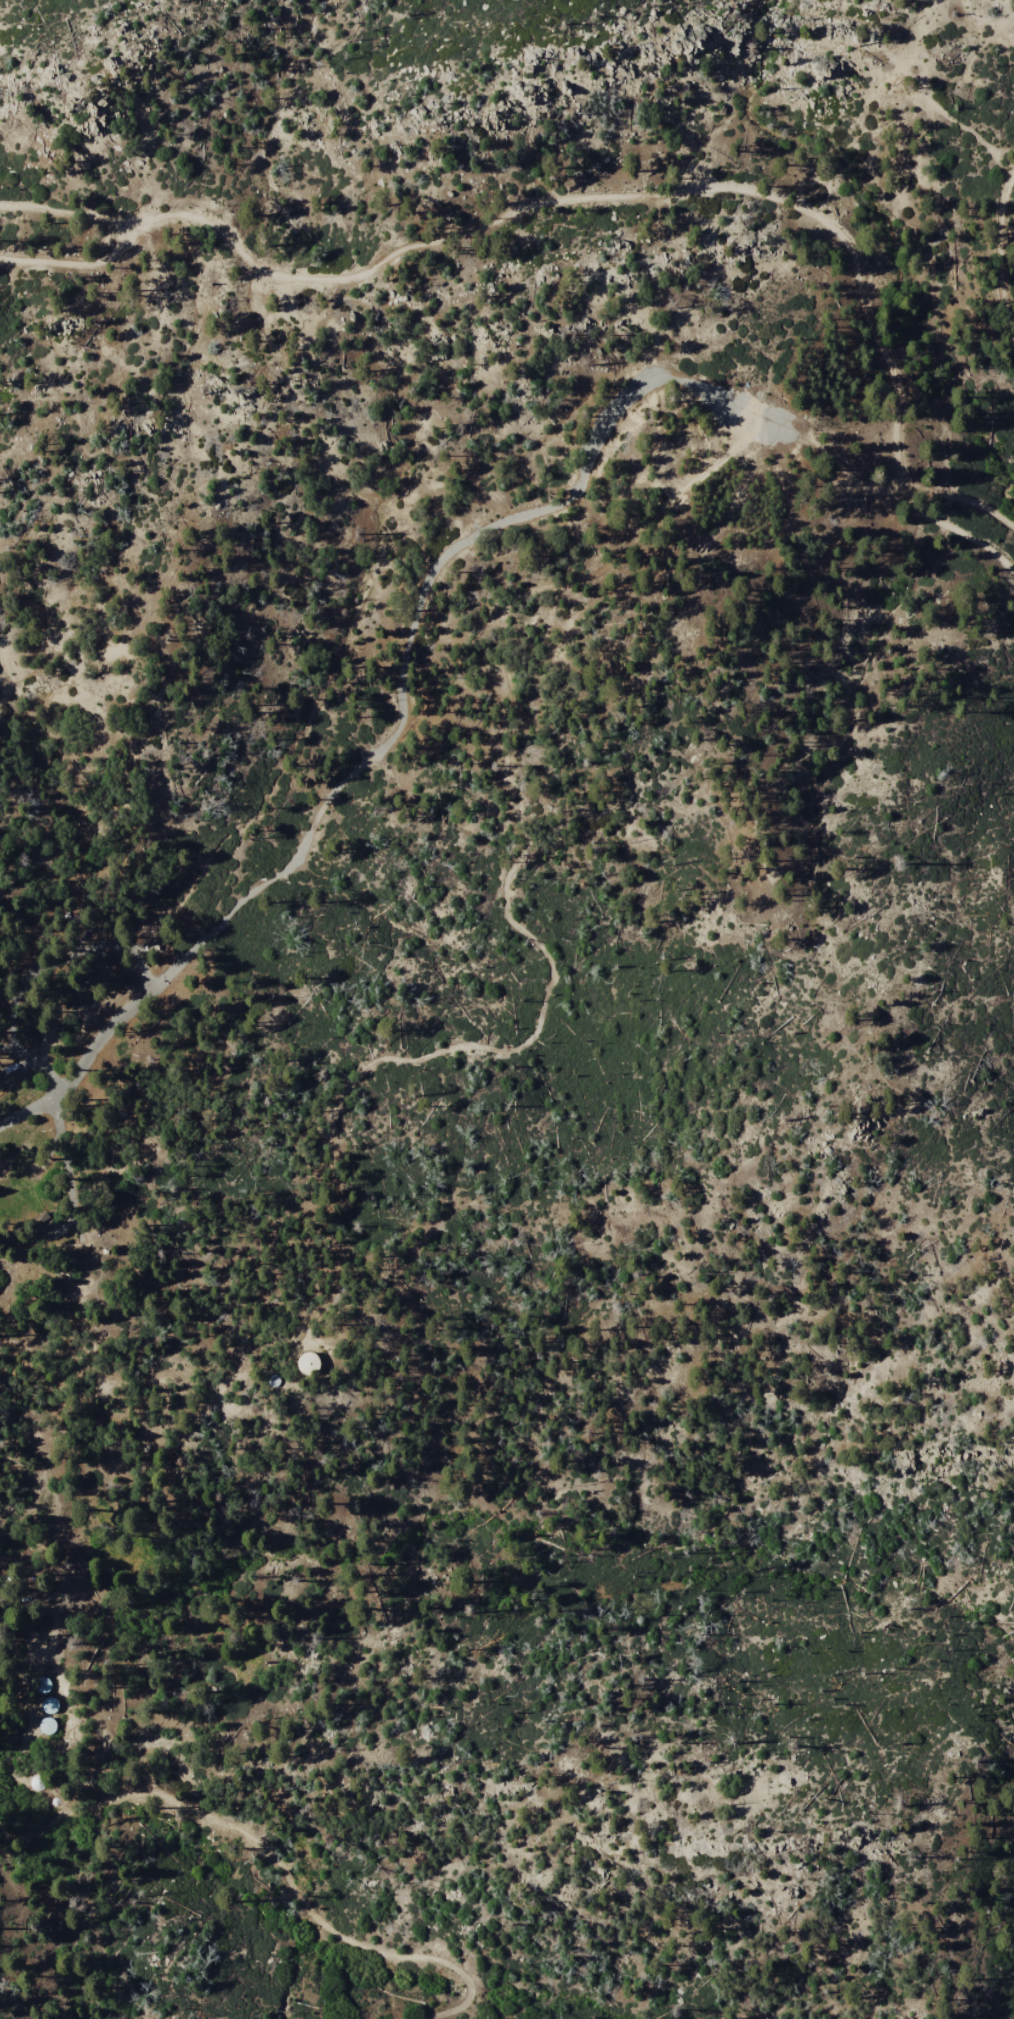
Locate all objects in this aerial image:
road: (607, 193)
road: (66, 213)
road: (999, 251)
road: (75, 261)
road: (844, 472)
road: (959, 501)
road: (953, 532)
road: (405, 700)
road: (39, 972)
road: (70, 1191)
building: (42, 1684)
building: (48, 1706)
building: (46, 1725)
road: (14, 1836)
road: (270, 1854)
road: (454, 2011)

